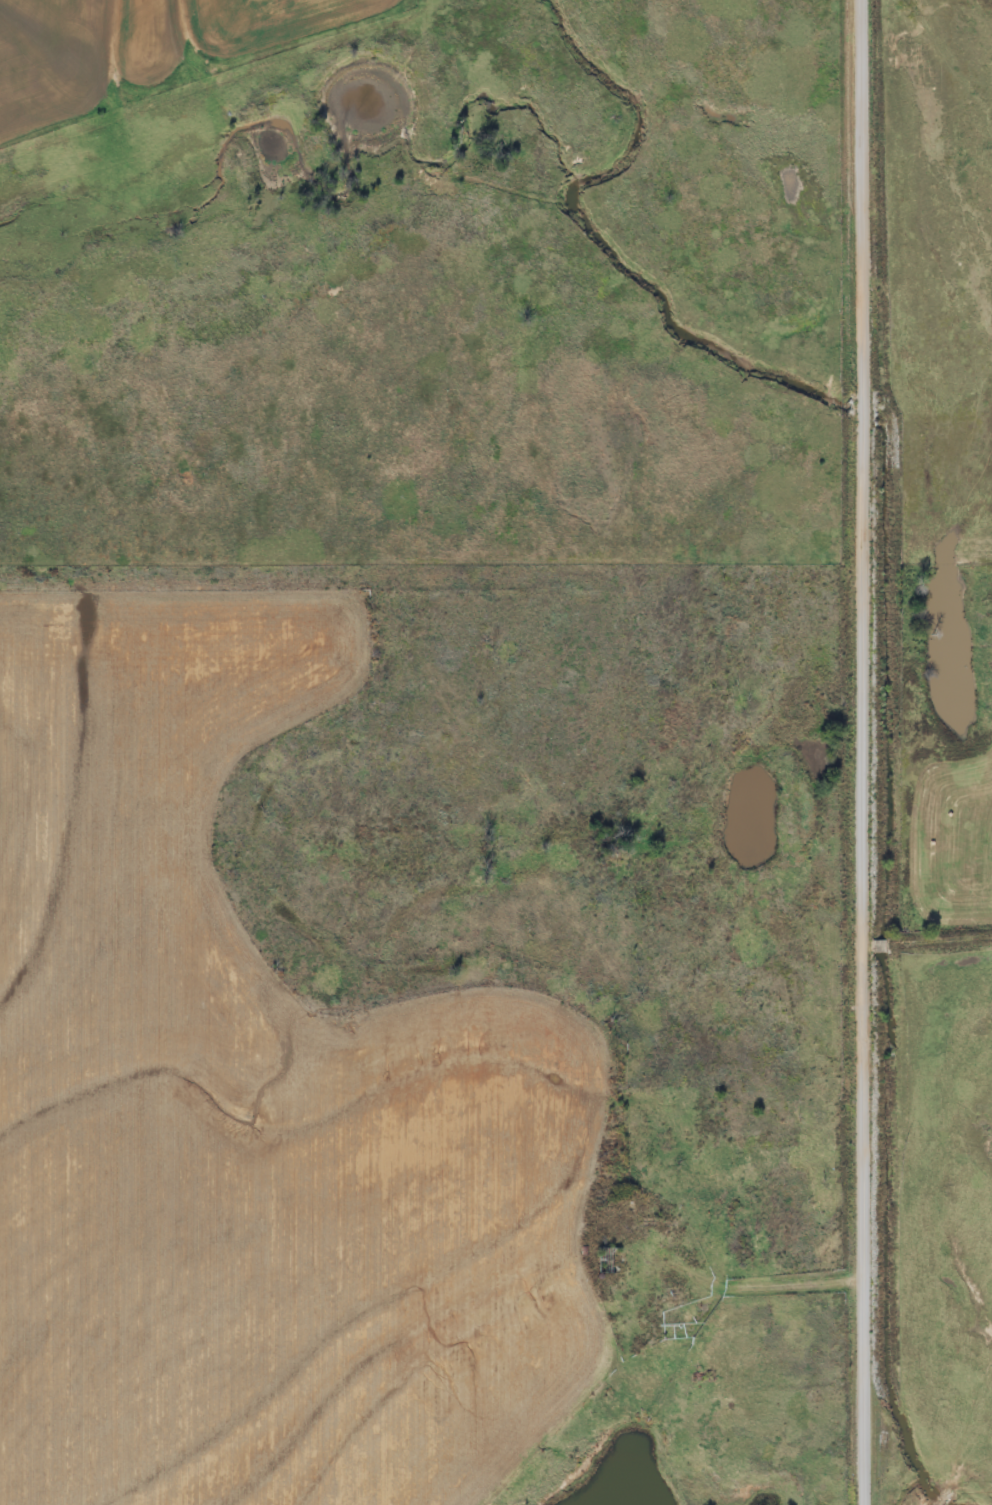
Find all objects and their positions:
road: (863, 752)
road: (929, 940)

